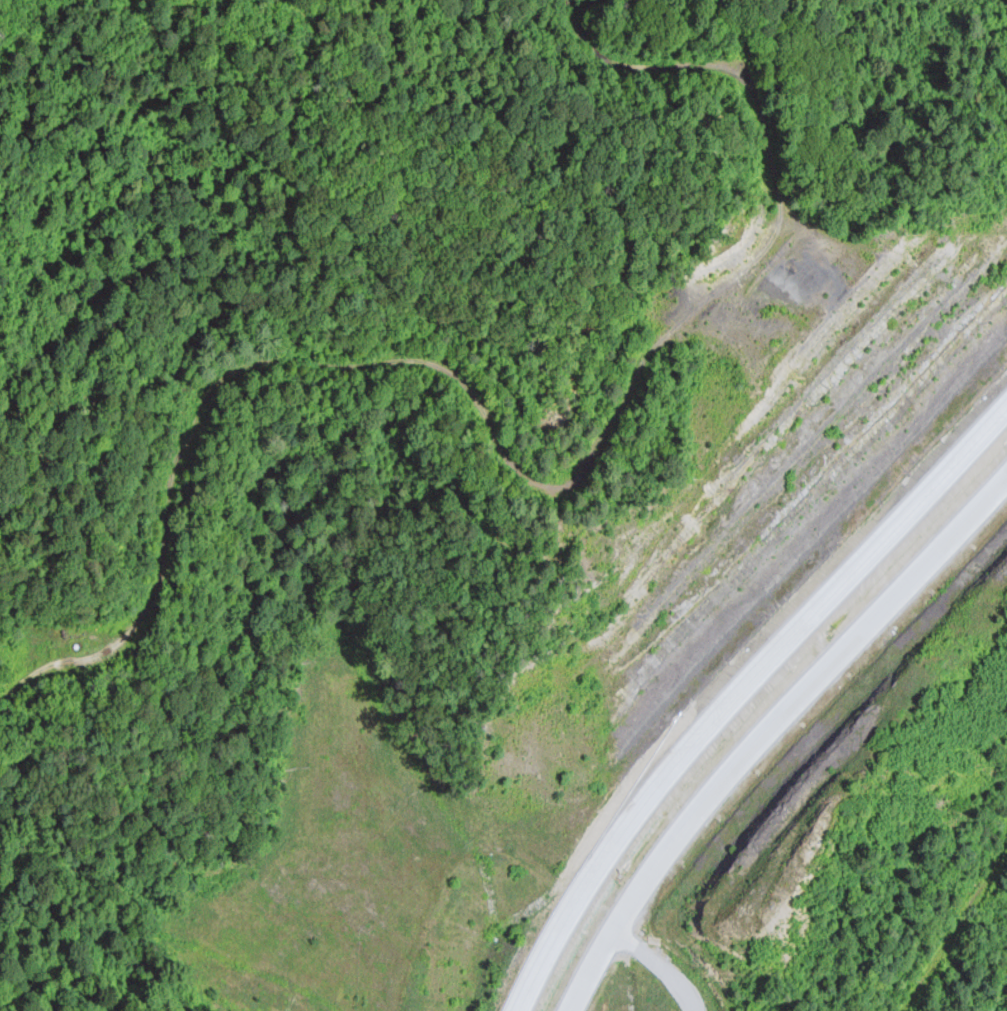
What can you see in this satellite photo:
quarry: (774, 423)
road: (737, 688)
road: (764, 726)
quarry: (842, 752)

